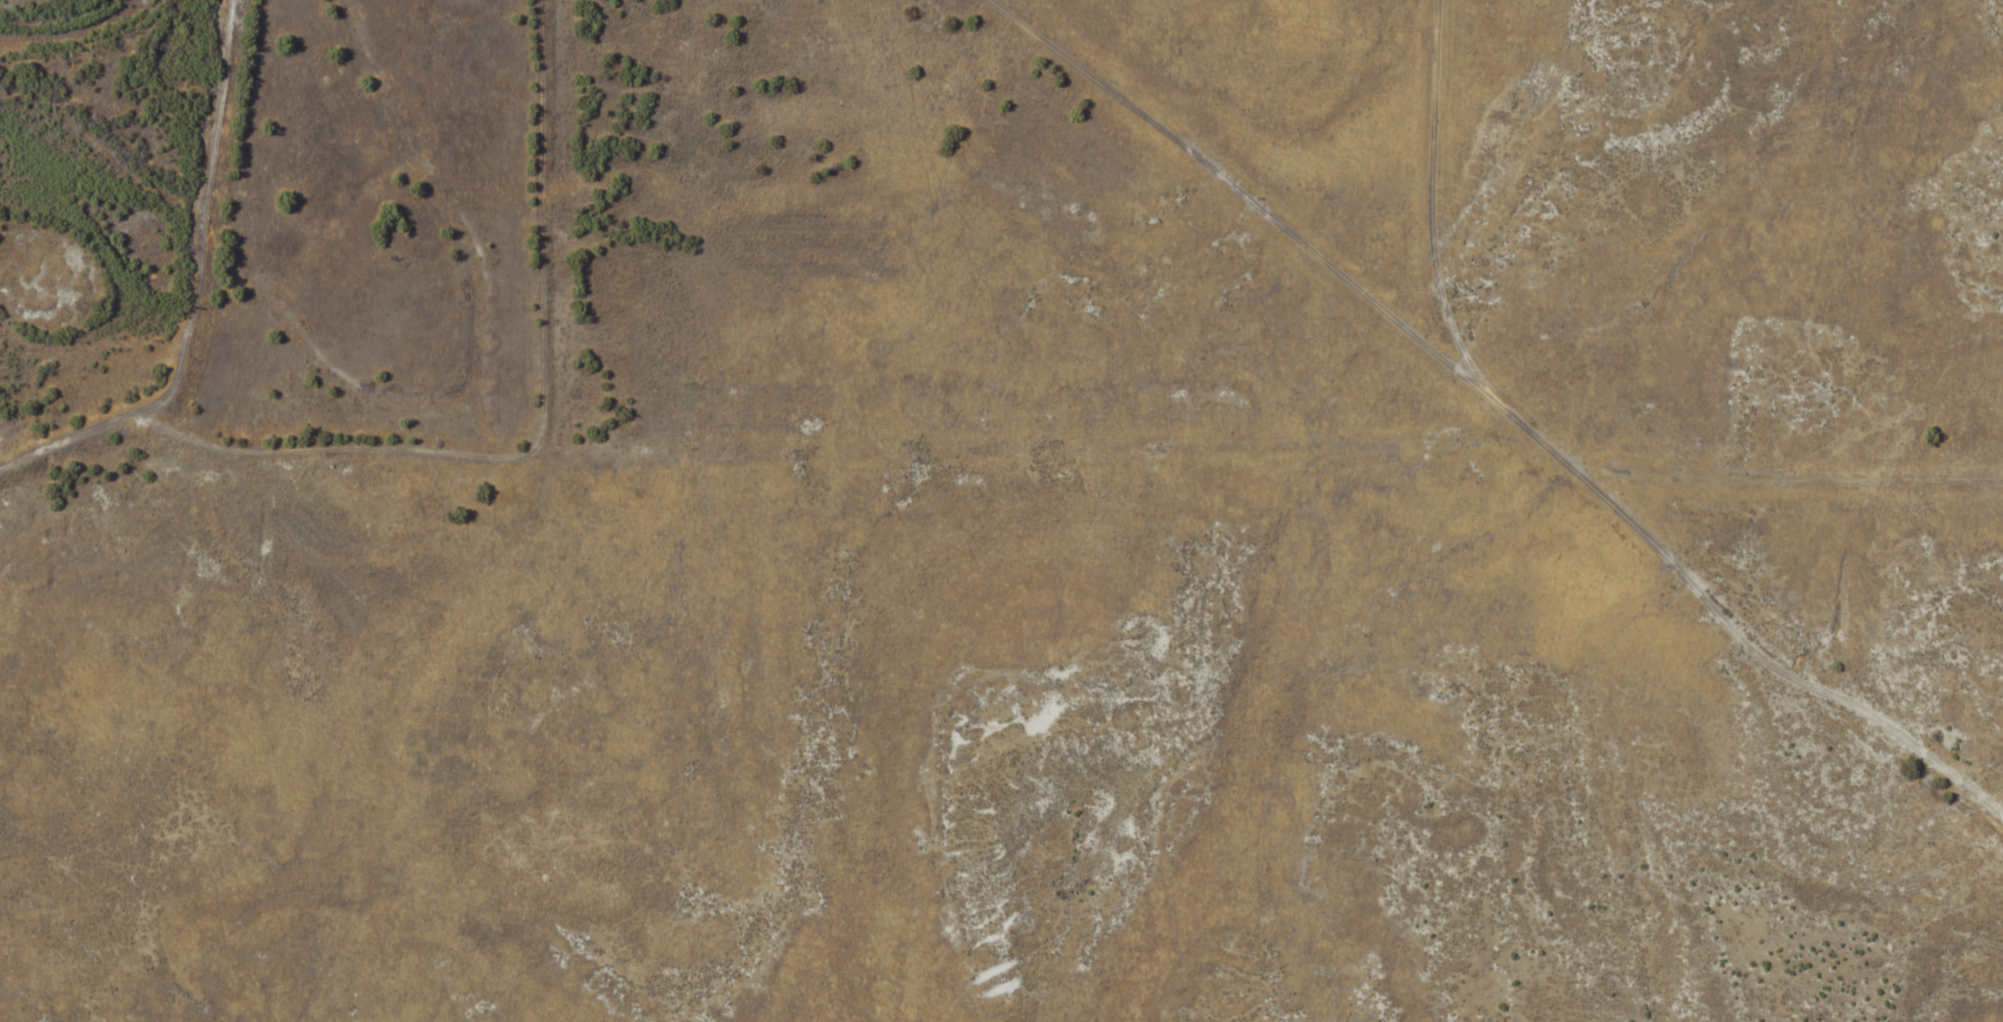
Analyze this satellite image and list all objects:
road: (206, 316)

